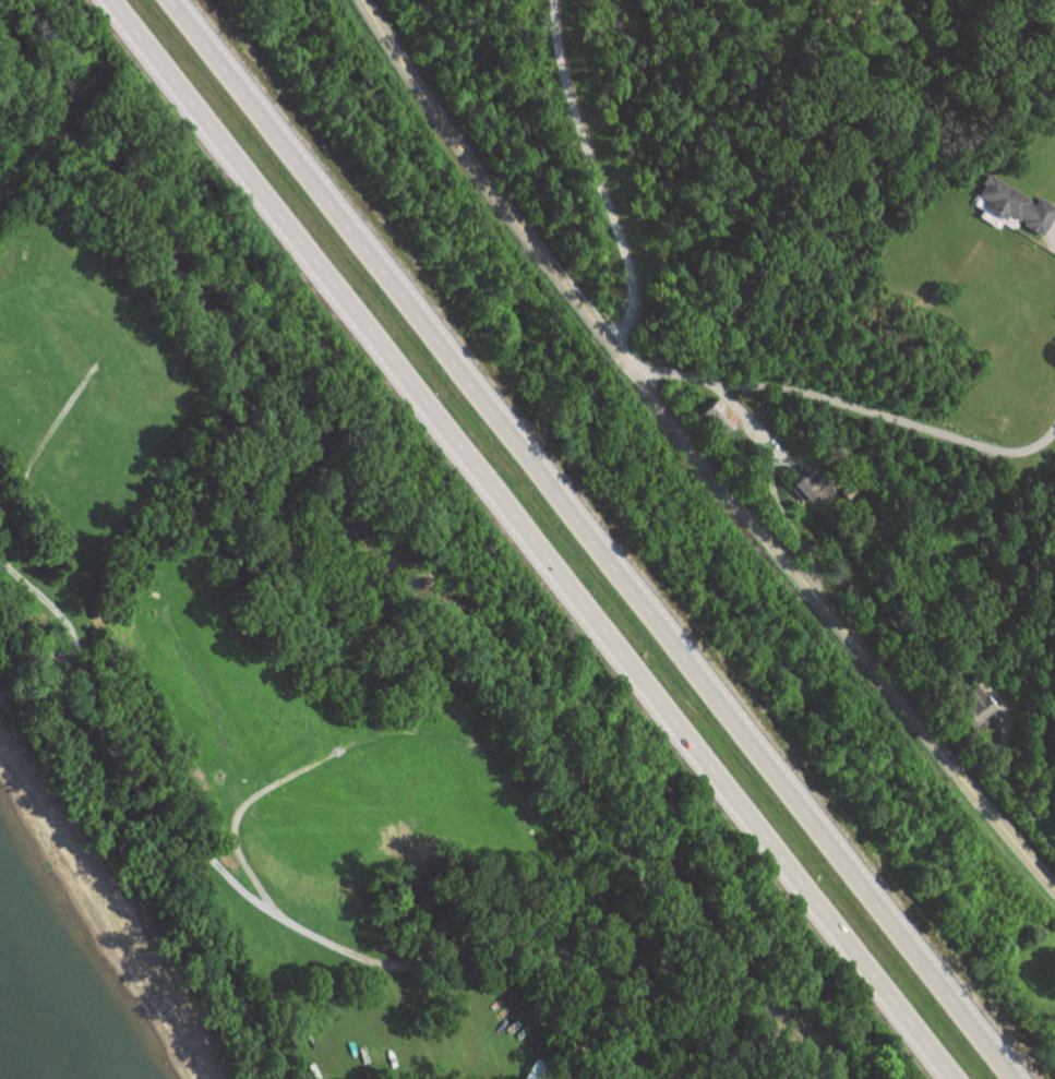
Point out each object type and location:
road: (597, 175)
building: (1014, 207)
road: (854, 406)
building: (726, 417)
road: (697, 454)
building: (816, 488)
road: (532, 539)
road: (590, 540)
building: (981, 706)
road: (265, 906)

